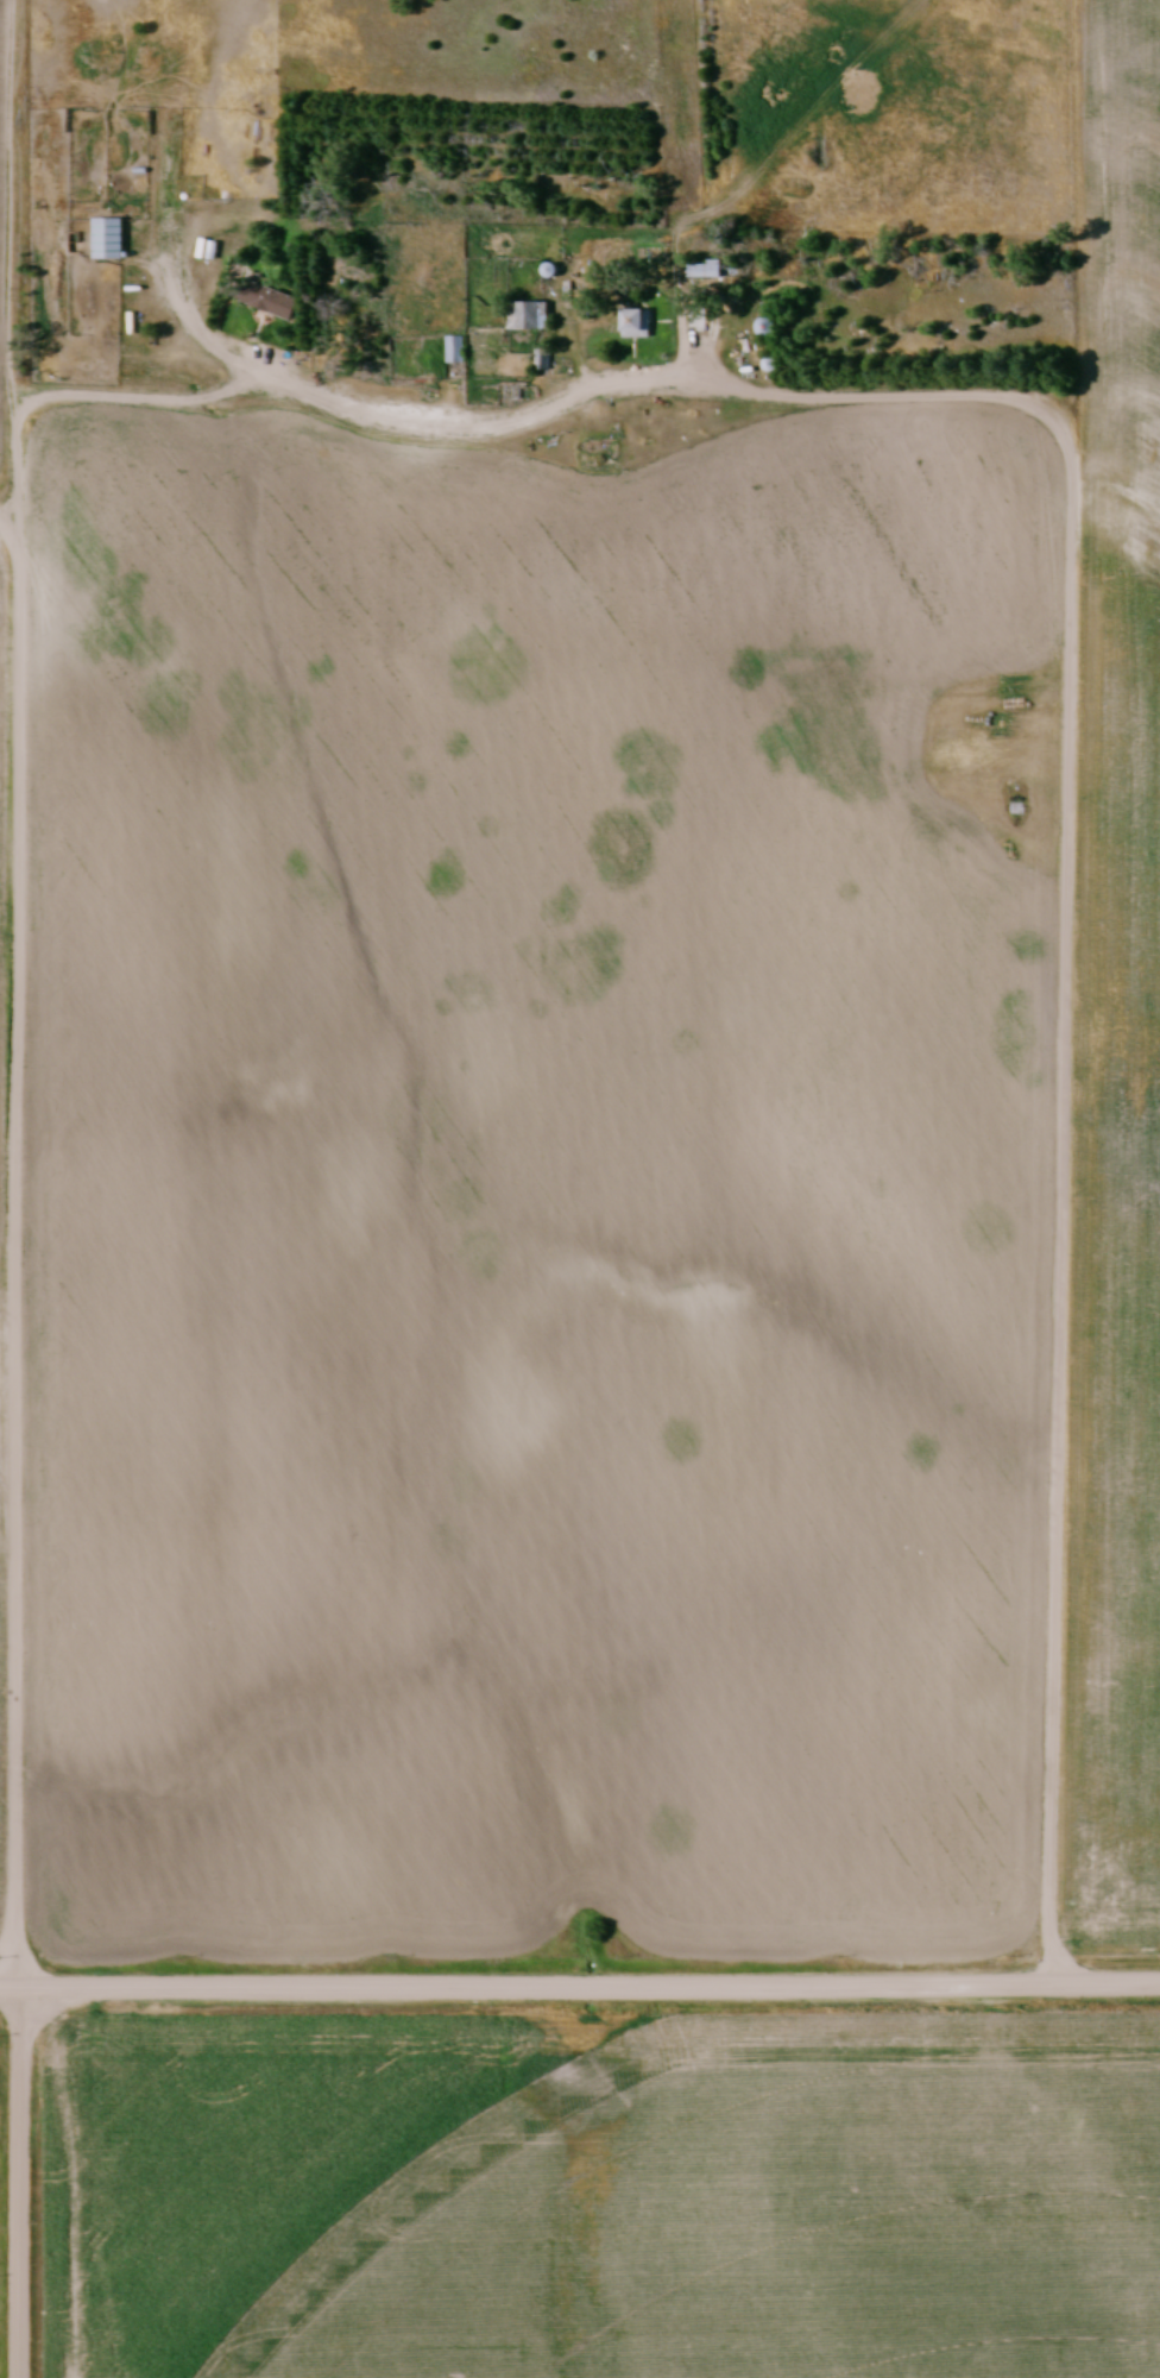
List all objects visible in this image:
building: (111, 239)
building: (710, 271)
building: (273, 301)
building: (530, 315)
building: (639, 323)
building: (771, 327)
building: (456, 348)
building: (546, 360)
road: (540, 414)
road: (11, 509)
building: (1015, 798)
road: (580, 1987)
road: (23, 2181)
building: (1123, 2220)

